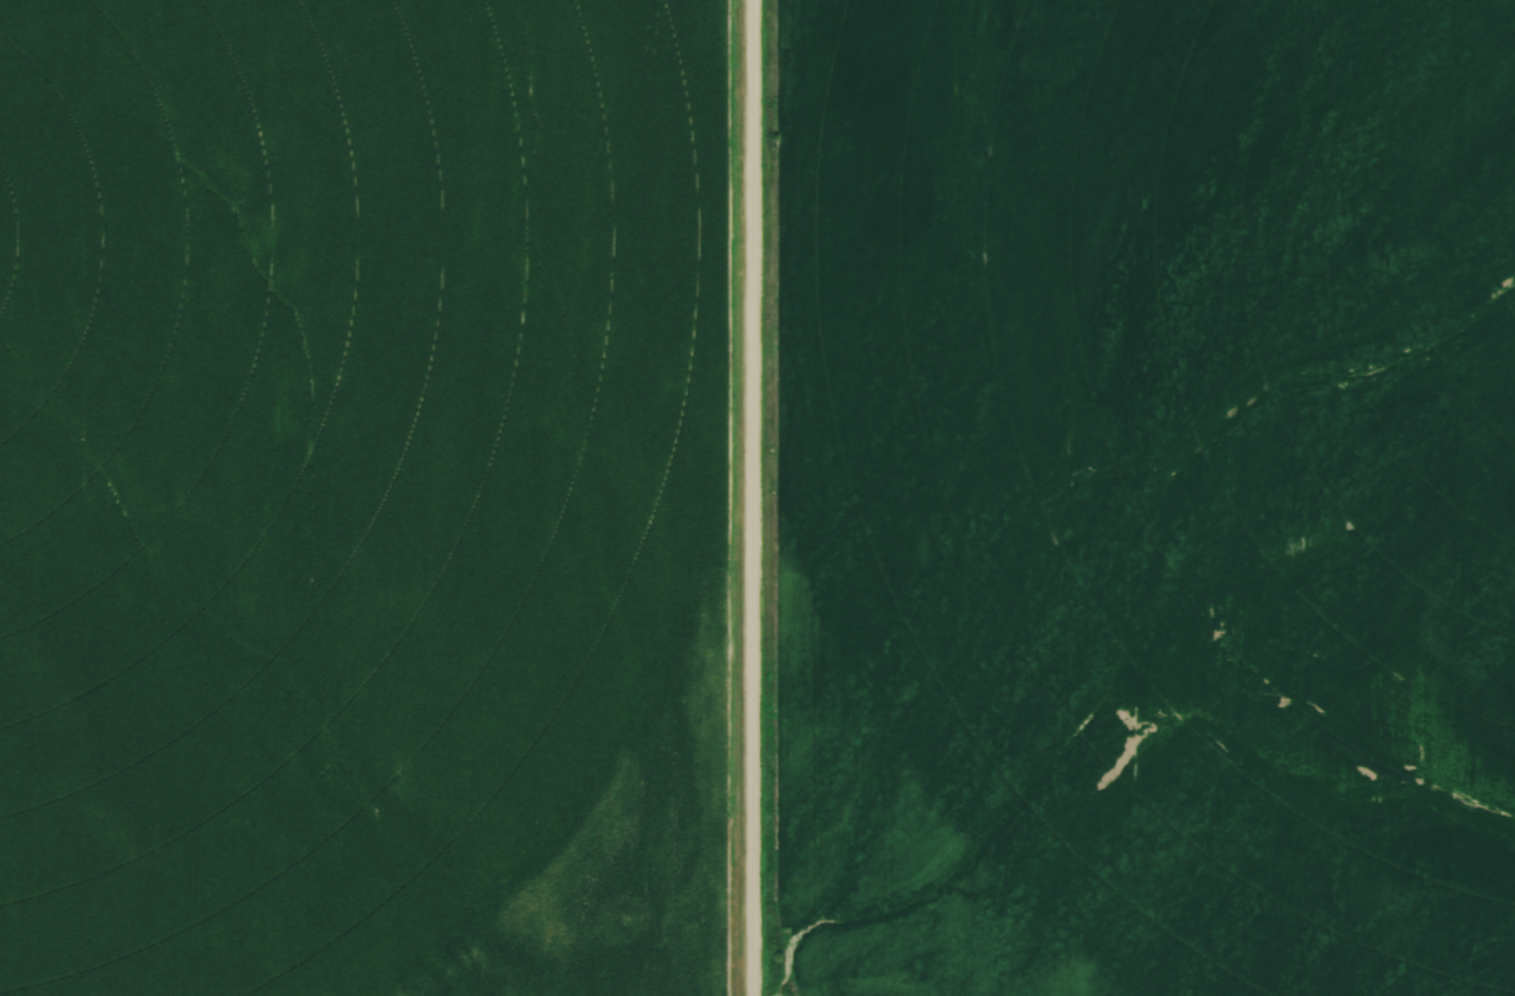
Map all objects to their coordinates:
road: (749, 498)

